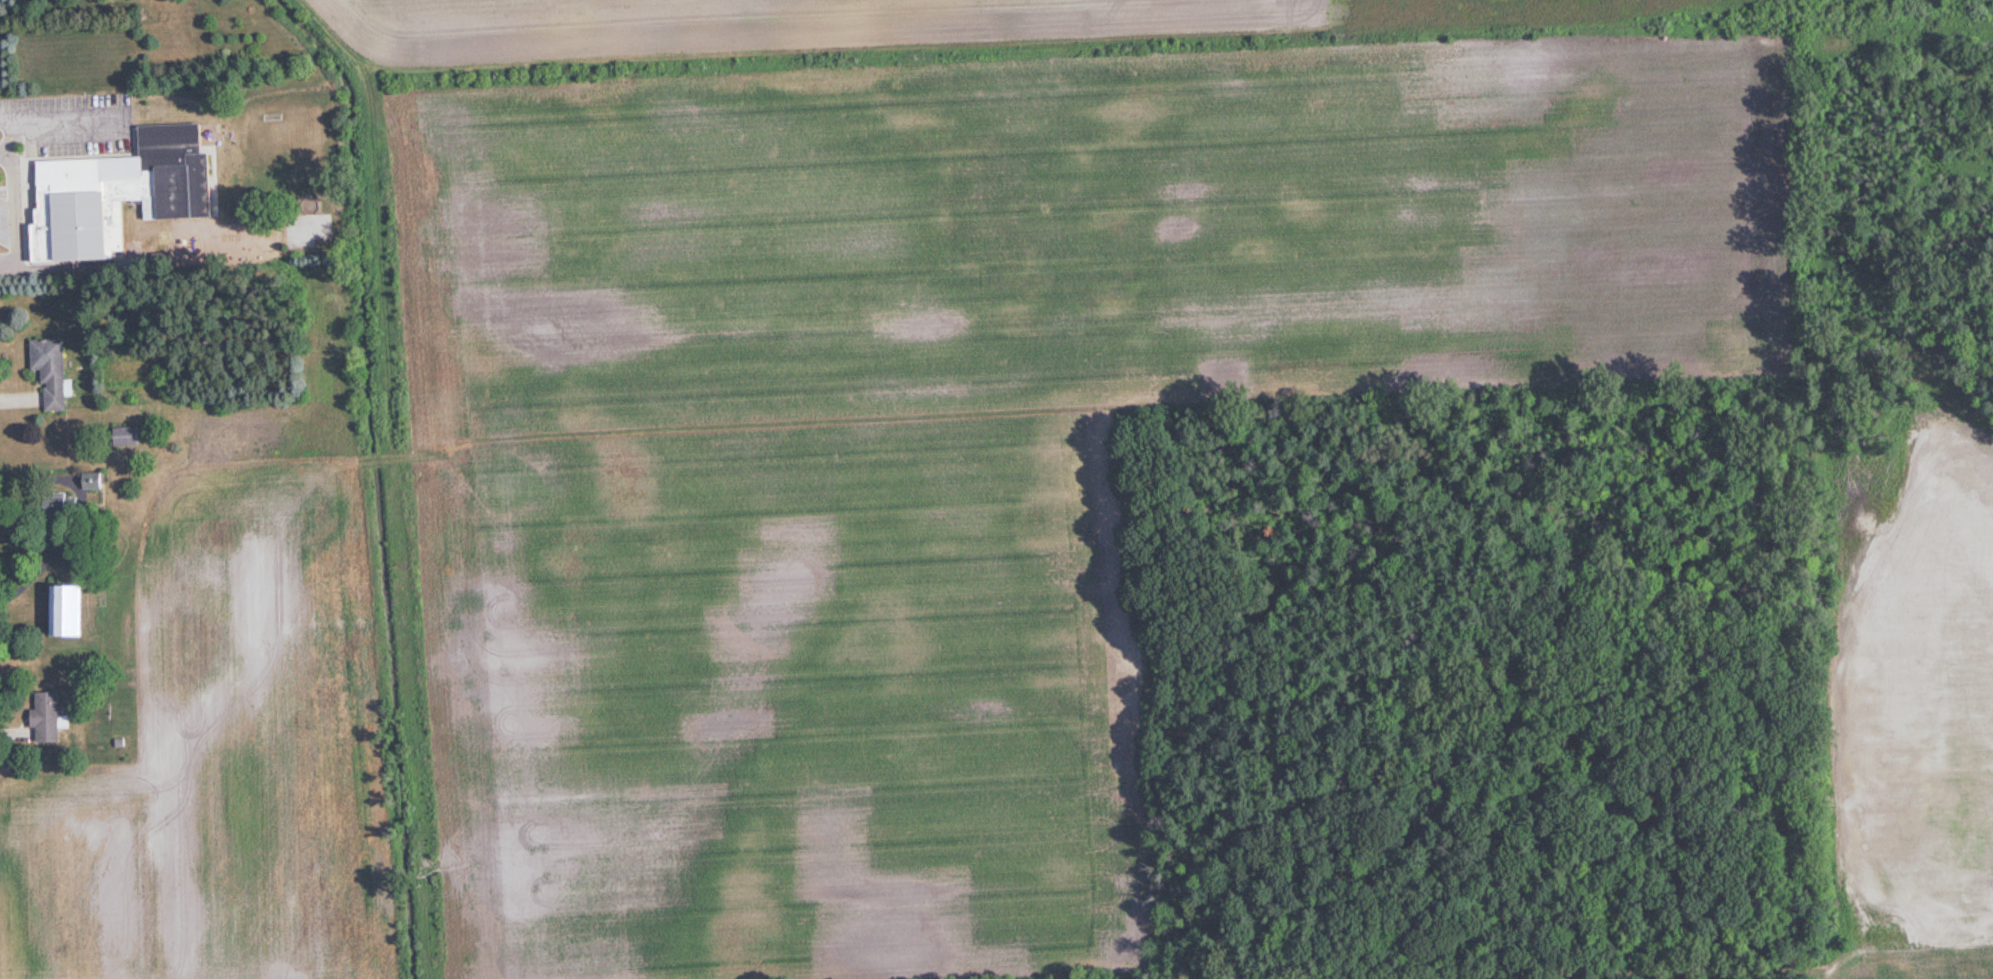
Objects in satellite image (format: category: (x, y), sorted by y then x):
road: (57, 118)
road: (5, 152)
building: (134, 189)
road: (12, 195)
building: (55, 370)
building: (131, 436)
building: (96, 480)
building: (67, 501)
building: (74, 611)
building: (52, 717)

